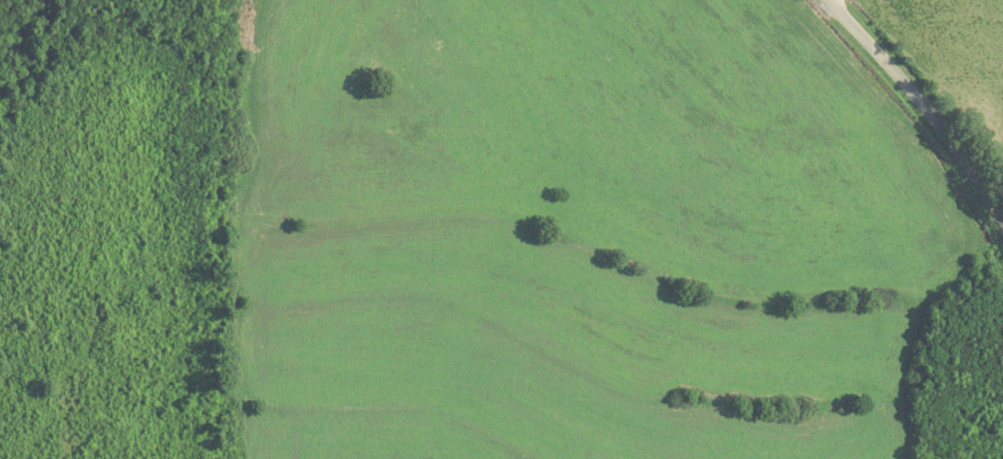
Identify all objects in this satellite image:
road: (920, 106)

